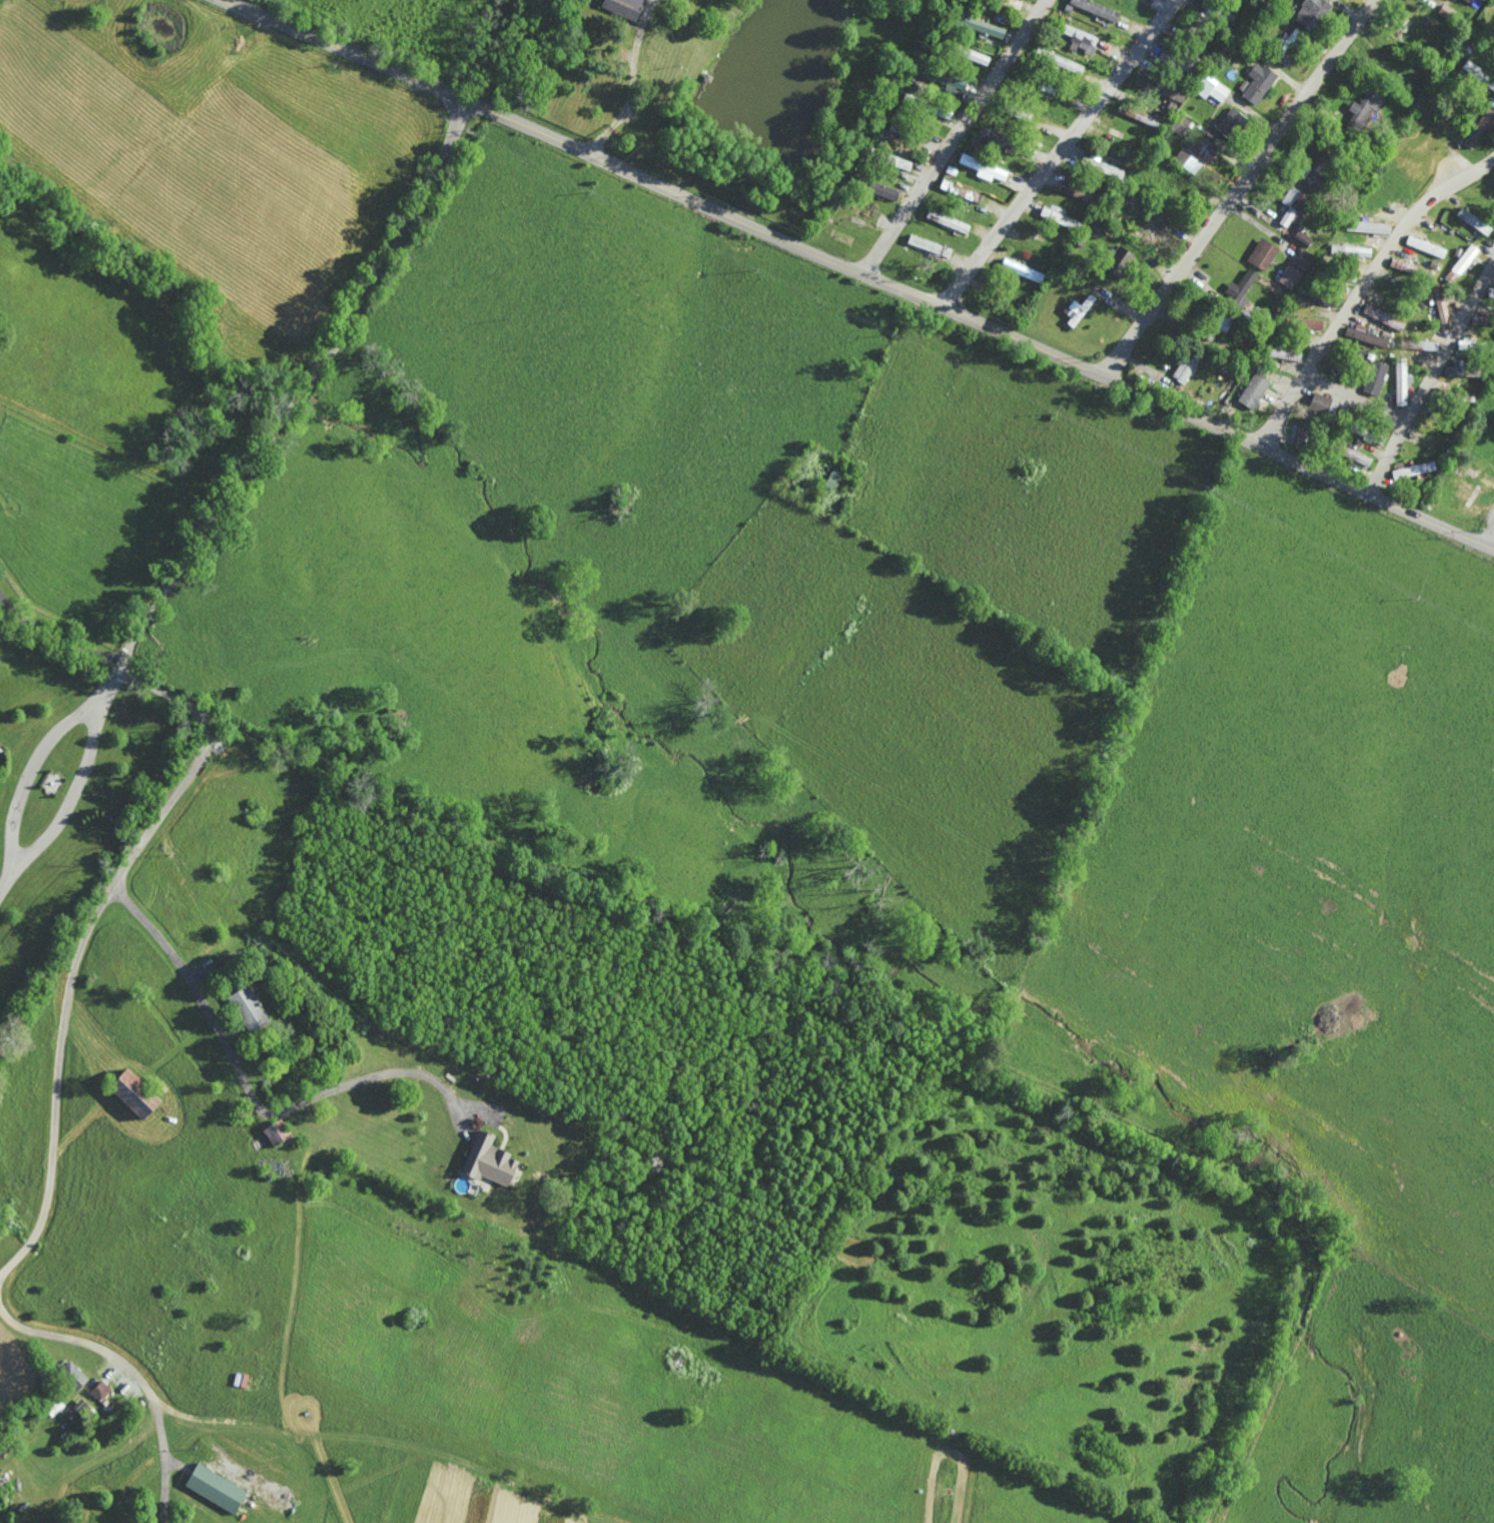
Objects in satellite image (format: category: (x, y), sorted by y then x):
building: (1467, 0)
building: (623, 7)
building: (1096, 9)
building: (1309, 12)
building: (980, 25)
building: (1080, 38)
building: (1288, 47)
building: (1058, 62)
building: (1478, 74)
building: (945, 79)
road: (631, 82)
building: (1256, 82)
building: (1159, 87)
building: (1211, 89)
building: (942, 111)
building: (1362, 111)
road: (971, 121)
building: (1152, 121)
building: (1229, 122)
building: (1180, 124)
building: (1479, 128)
building: (995, 139)
road: (1058, 153)
building: (1195, 153)
building: (897, 161)
building: (1103, 166)
building: (984, 168)
road: (1239, 187)
building: (880, 189)
building: (1078, 190)
building: (961, 191)
building: (1293, 207)
building: (1058, 217)
building: (947, 221)
building: (1369, 227)
building: (1096, 230)
building: (1148, 230)
building: (1301, 238)
building: (929, 245)
building: (1425, 246)
building: (1350, 251)
building: (1262, 254)
road: (877, 258)
building: (1302, 259)
building: (1119, 261)
building: (1403, 265)
road: (859, 274)
building: (1290, 276)
building: (1240, 288)
road: (1362, 290)
building: (1491, 292)
building: (1313, 299)
building: (1441, 306)
building: (1077, 309)
building: (1221, 323)
building: (1310, 324)
building: (1365, 335)
building: (1491, 346)
building: (1187, 364)
building: (1374, 378)
road: (1431, 379)
building: (1401, 381)
building: (1253, 391)
road: (1355, 399)
building: (1319, 402)
road: (280, 425)
building: (1361, 459)
building: (1413, 469)
road: (1491, 542)
road: (55, 637)
road: (112, 679)
road: (31, 770)
road: (75, 792)
road: (9, 877)
road: (69, 984)
building: (248, 1008)
road: (900, 1019)
road: (249, 1092)
building: (134, 1093)
building: (276, 1132)
building: (488, 1160)
road: (136, 1370)
building: (73, 1375)
building: (100, 1390)
building: (215, 1488)

